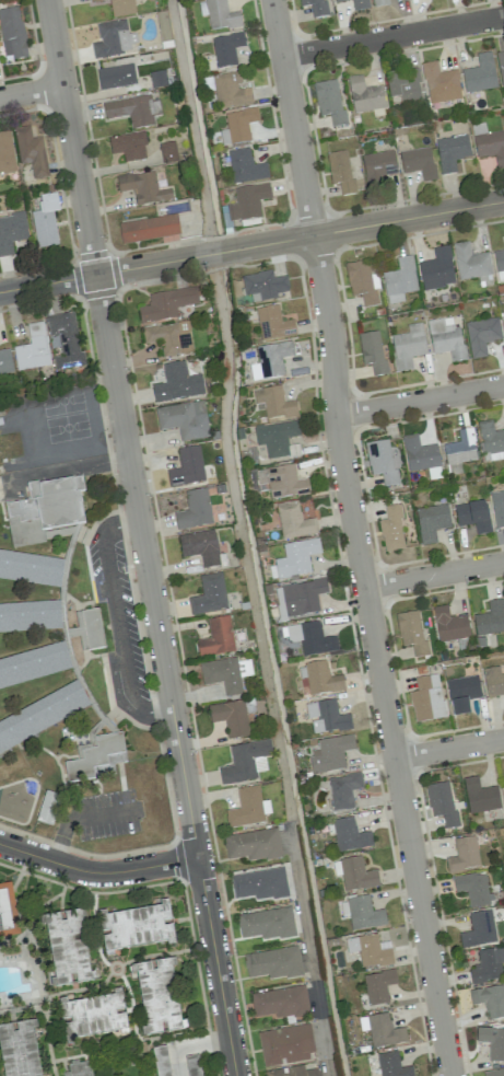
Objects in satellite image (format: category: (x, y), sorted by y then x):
building: (339, 0)
building: (379, 2)
building: (359, 4)
building: (119, 7)
building: (314, 7)
building: (221, 15)
building: (12, 34)
road: (392, 36)
building: (114, 38)
building: (226, 49)
building: (501, 68)
building: (480, 74)
building: (116, 77)
building: (439, 83)
building: (403, 85)
building: (230, 91)
road: (31, 92)
building: (364, 95)
building: (328, 101)
building: (132, 111)
building: (239, 125)
building: (489, 143)
building: (128, 146)
building: (31, 151)
building: (167, 152)
building: (452, 152)
building: (5, 153)
building: (418, 162)
building: (245, 166)
building: (377, 167)
building: (340, 171)
building: (143, 188)
building: (247, 203)
building: (45, 221)
building: (150, 229)
building: (11, 231)
road: (251, 246)
building: (470, 262)
building: (500, 264)
building: (437, 269)
building: (399, 280)
building: (362, 284)
building: (263, 286)
building: (167, 304)
building: (503, 321)
building: (273, 324)
building: (481, 335)
building: (169, 338)
building: (446, 338)
building: (65, 339)
building: (409, 347)
building: (32, 348)
building: (372, 351)
building: (270, 360)
building: (4, 361)
building: (177, 383)
park: (60, 398)
road: (420, 401)
building: (274, 403)
building: (184, 419)
park: (66, 425)
road: (122, 429)
building: (278, 439)
building: (491, 441)
building: (459, 451)
building: (419, 454)
building: (380, 461)
building: (187, 467)
building: (282, 482)
building: (497, 508)
building: (44, 510)
building: (194, 510)
building: (473, 516)
building: (294, 521)
building: (431, 522)
building: (391, 529)
road: (354, 539)
building: (199, 546)
building: (294, 559)
building: (30, 568)
road: (433, 575)
building: (209, 594)
building: (298, 599)
building: (30, 616)
building: (490, 618)
road: (117, 621)
building: (449, 625)
building: (92, 629)
building: (411, 633)
building: (72, 634)
building: (216, 638)
building: (310, 638)
building: (33, 664)
building: (225, 673)
building: (318, 679)
building: (493, 682)
building: (461, 693)
building: (426, 698)
building: (40, 715)
building: (326, 716)
building: (230, 717)
road: (448, 748)
building: (330, 753)
building: (97, 759)
building: (245, 761)
building: (503, 788)
building: (343, 790)
building: (480, 796)
building: (442, 803)
building: (46, 807)
building: (248, 807)
road: (82, 818)
building: (349, 835)
building: (253, 845)
building: (464, 855)
road: (96, 872)
building: (356, 875)
building: (259, 884)
building: (472, 888)
road: (60, 902)
building: (7, 909)
building: (362, 913)
building: (133, 924)
building: (267, 924)
building: (479, 929)
road: (93, 930)
road: (30, 939)
building: (66, 944)
building: (370, 950)
road: (156, 953)
building: (273, 963)
building: (488, 965)
road: (215, 967)
road: (120, 969)
building: (378, 986)
road: (81, 988)
building: (156, 993)
building: (490, 999)
building: (280, 1003)
road: (23, 1009)
building: (91, 1013)
building: (384, 1030)
road: (139, 1038)
road: (45, 1042)
building: (492, 1042)
building: (285, 1044)
road: (188, 1046)
building: (17, 1049)
road: (116, 1050)
building: (159, 1060)
building: (191, 1065)
building: (391, 1065)
building: (75, 1067)
building: (292, 1072)
building: (494, 1073)

